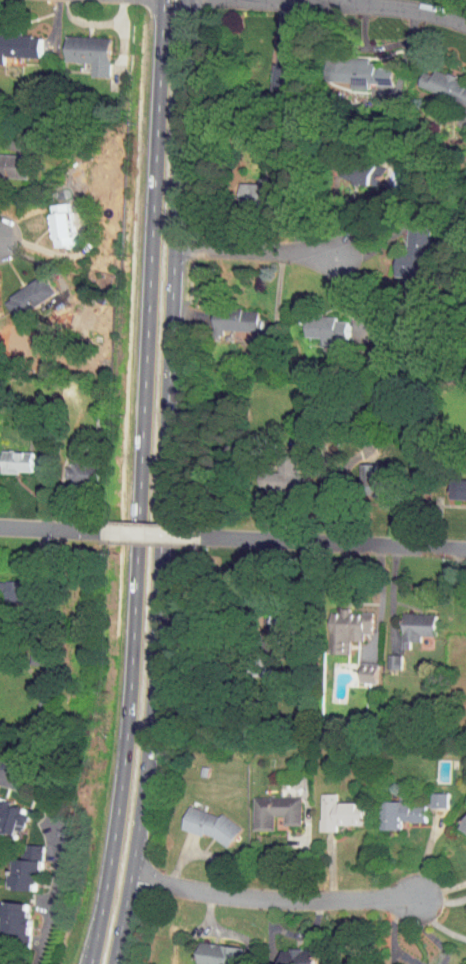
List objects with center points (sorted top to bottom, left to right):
road: (357, 1)
road: (360, 3)
building: (13, 40)
building: (77, 47)
road: (158, 53)
building: (274, 59)
building: (344, 66)
building: (438, 82)
building: (8, 160)
building: (351, 166)
road: (178, 172)
building: (241, 186)
building: (50, 223)
building: (402, 248)
road: (254, 252)
building: (20, 290)
building: (223, 316)
building: (314, 325)
building: (10, 457)
building: (67, 468)
building: (356, 469)
building: (269, 472)
building: (451, 484)
road: (341, 489)
road: (136, 516)
road: (48, 529)
road: (147, 533)
road: (331, 540)
building: (7, 587)
road: (389, 592)
road: (158, 611)
building: (266, 617)
building: (404, 622)
building: (335, 624)
building: (382, 656)
building: (356, 668)
building: (426, 793)
building: (264, 805)
building: (390, 805)
building: (328, 806)
building: (6, 812)
building: (459, 817)
building: (198, 819)
road: (65, 856)
building: (14, 863)
road: (270, 899)
road: (414, 903)
building: (8, 910)
road: (123, 921)
road: (95, 944)
building: (207, 948)
building: (286, 953)

